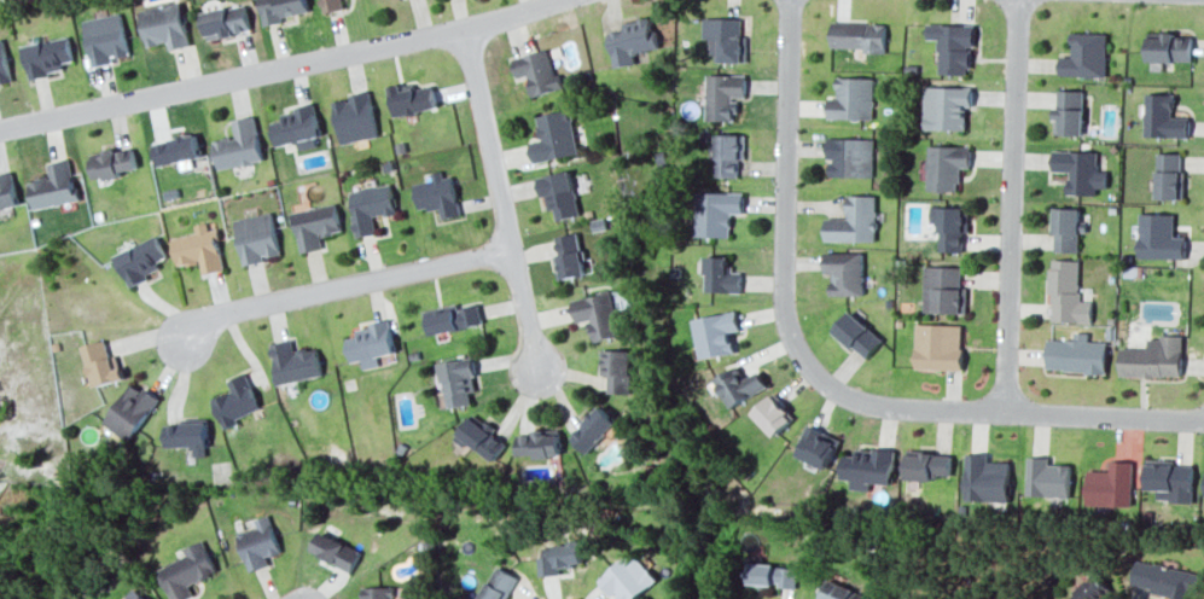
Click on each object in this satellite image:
building: (331, 5)
building: (280, 10)
building: (226, 21)
building: (165, 25)
building: (857, 35)
building: (106, 37)
building: (727, 37)
building: (632, 40)
building: (953, 46)
building: (1169, 46)
building: (1086, 54)
building: (47, 56)
building: (4, 63)
road: (278, 68)
building: (537, 71)
building: (725, 95)
building: (412, 98)
building: (853, 98)
building: (946, 106)
building: (1069, 111)
building: (1163, 116)
building: (355, 117)
building: (297, 127)
building: (554, 136)
building: (239, 145)
building: (176, 151)
building: (728, 153)
building: (850, 156)
building: (112, 162)
building: (946, 165)
building: (1077, 169)
building: (1169, 175)
building: (54, 185)
building: (7, 191)
building: (559, 193)
road: (498, 196)
road: (1010, 205)
building: (371, 207)
building: (717, 211)
building: (854, 220)
building: (315, 225)
building: (953, 227)
building: (1066, 228)
building: (257, 237)
building: (1159, 237)
building: (199, 248)
building: (569, 255)
building: (140, 260)
building: (845, 272)
building: (721, 274)
road: (342, 285)
building: (943, 290)
building: (1066, 292)
building: (595, 314)
building: (454, 316)
building: (717, 333)
building: (857, 335)
building: (371, 343)
building: (938, 347)
building: (1076, 355)
building: (1153, 357)
building: (101, 362)
building: (295, 362)
building: (616, 370)
road: (821, 378)
building: (458, 380)
building: (739, 385)
building: (235, 401)
building: (130, 411)
building: (774, 414)
building: (593, 429)
building: (187, 436)
building: (481, 436)
building: (539, 443)
building: (818, 447)
building: (927, 465)
building: (868, 467)
building: (1047, 477)
building: (987, 478)
building: (1169, 479)
building: (1110, 484)
building: (258, 542)
building: (336, 549)
building: (559, 557)
building: (186, 570)
building: (773, 574)
building: (626, 577)
building: (1164, 578)
building: (498, 583)
building: (1089, 588)
building: (377, 592)
building: (843, 592)
building: (133, 594)

